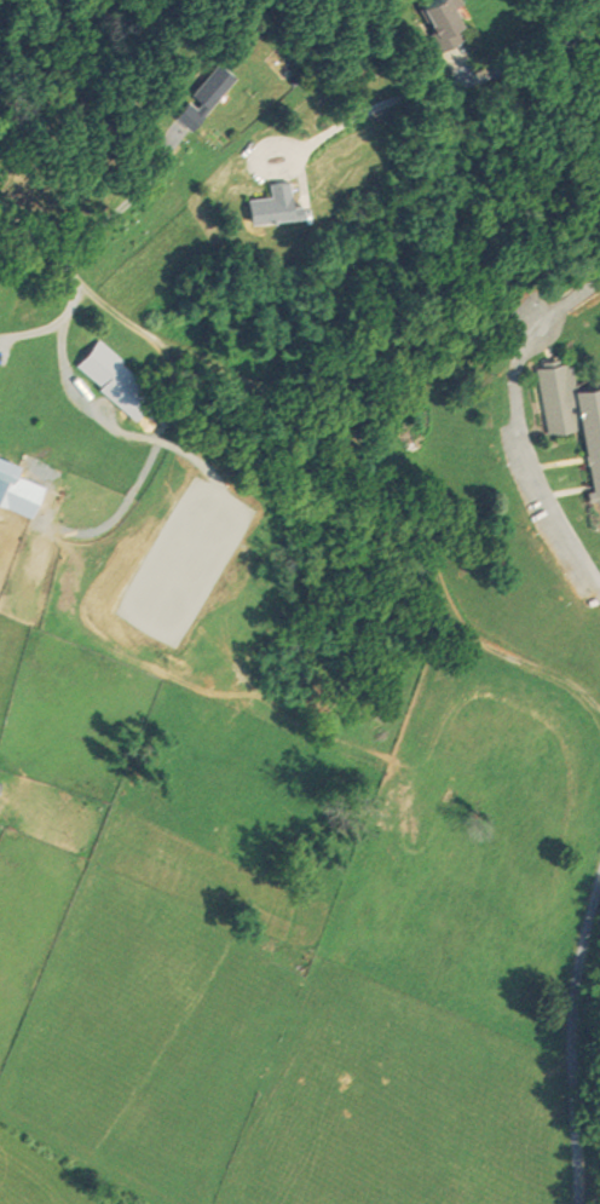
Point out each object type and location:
building: (432, 21)
road: (51, 44)
road: (456, 83)
building: (196, 96)
road: (122, 201)
building: (267, 204)
road: (37, 243)
building: (109, 376)
building: (571, 417)
road: (514, 422)
road: (148, 432)
building: (13, 490)
road: (567, 1029)

